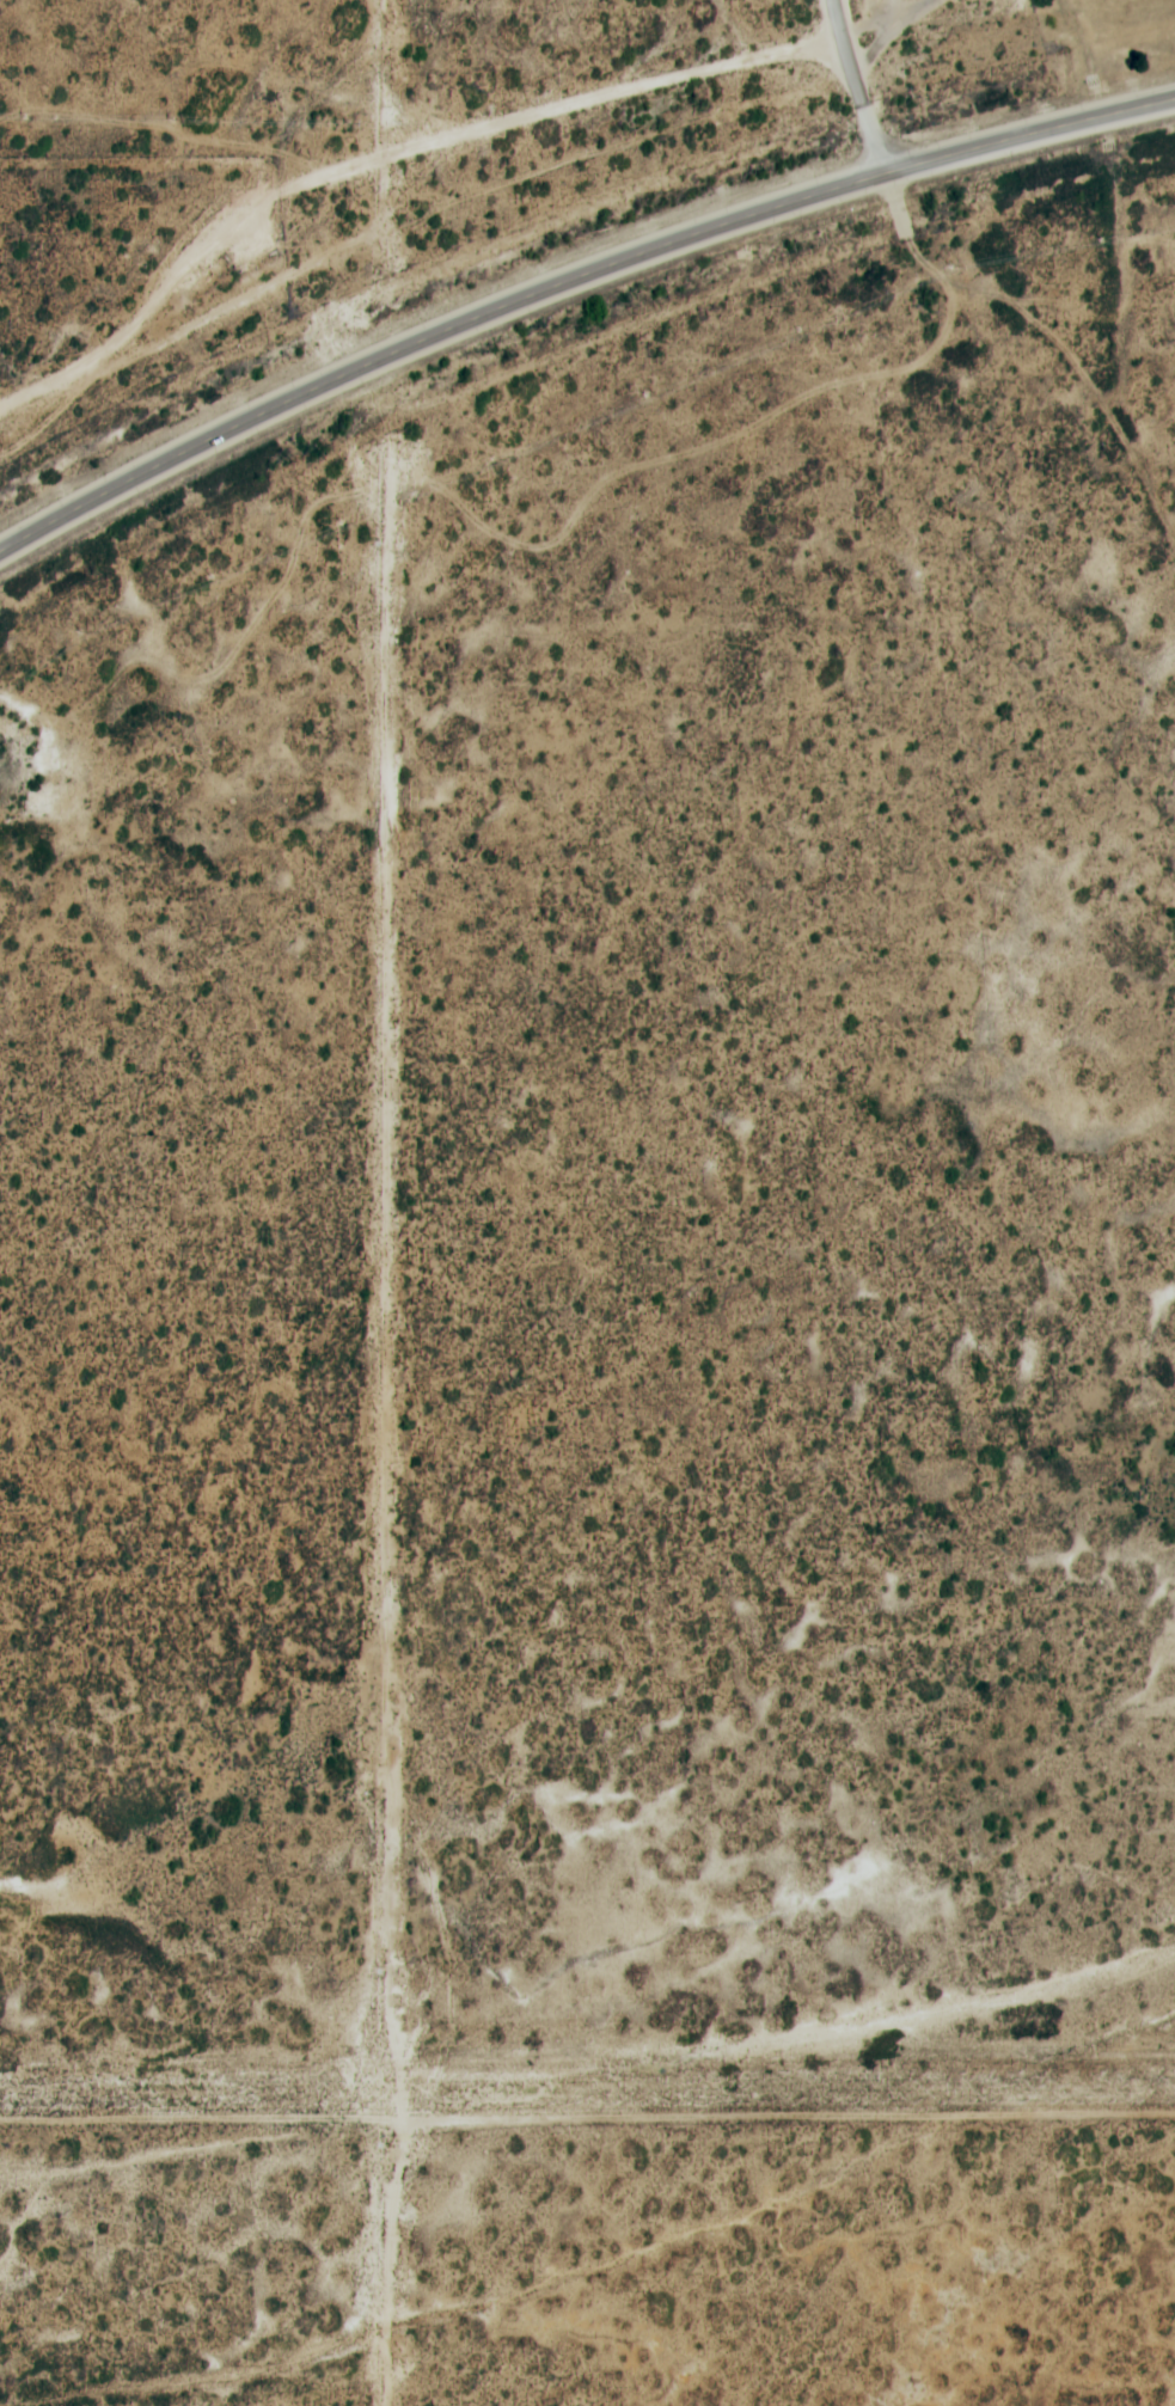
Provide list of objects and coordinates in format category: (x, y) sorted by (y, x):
road: (893, 31)
road: (862, 91)
road: (569, 288)
road: (1000, 466)

